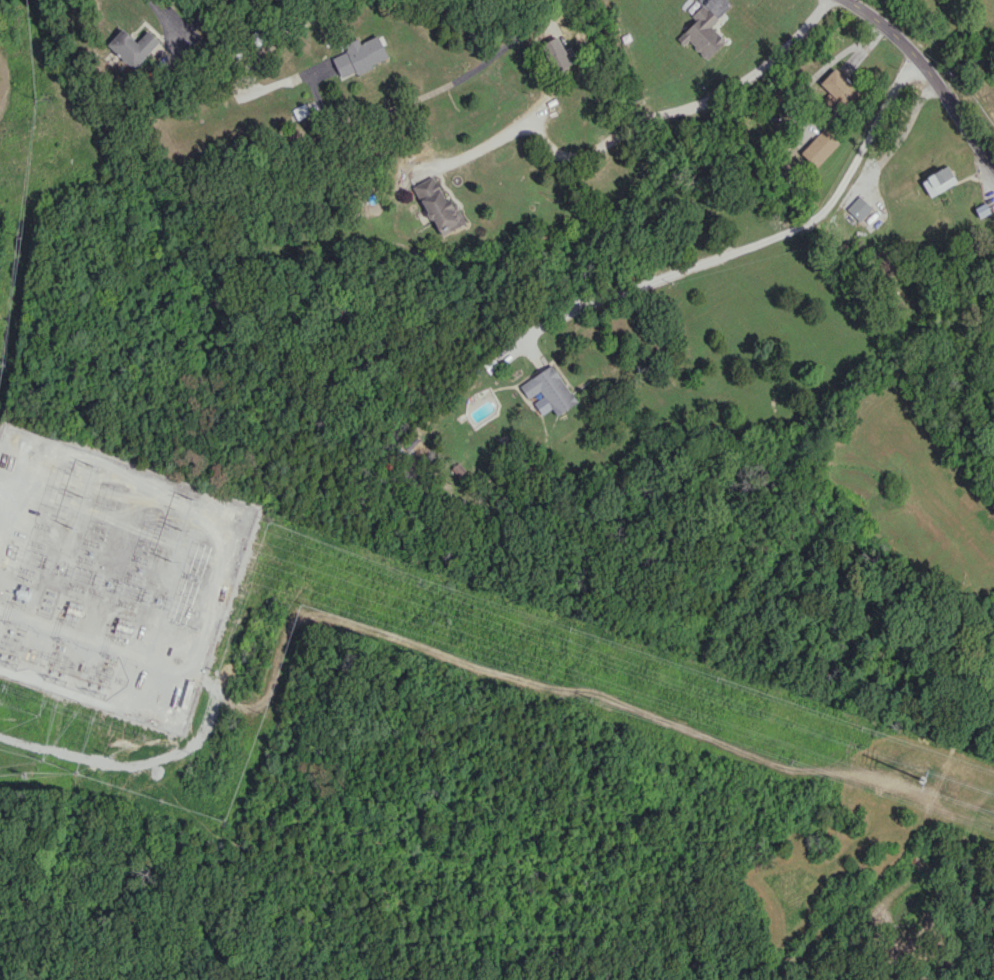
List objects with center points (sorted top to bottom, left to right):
road: (160, 15)
building: (702, 33)
building: (132, 46)
building: (556, 52)
road: (489, 53)
building: (359, 56)
road: (929, 74)
building: (835, 86)
building: (300, 111)
road: (641, 118)
road: (903, 135)
building: (819, 147)
building: (938, 180)
building: (437, 204)
building: (858, 208)
road: (749, 243)
building: (549, 389)
power tower: (92, 462)
power tower: (82, 495)
power tower: (191, 497)
power tower: (71, 527)
power tower: (182, 527)
power tower: (172, 559)
power tower: (952, 789)

